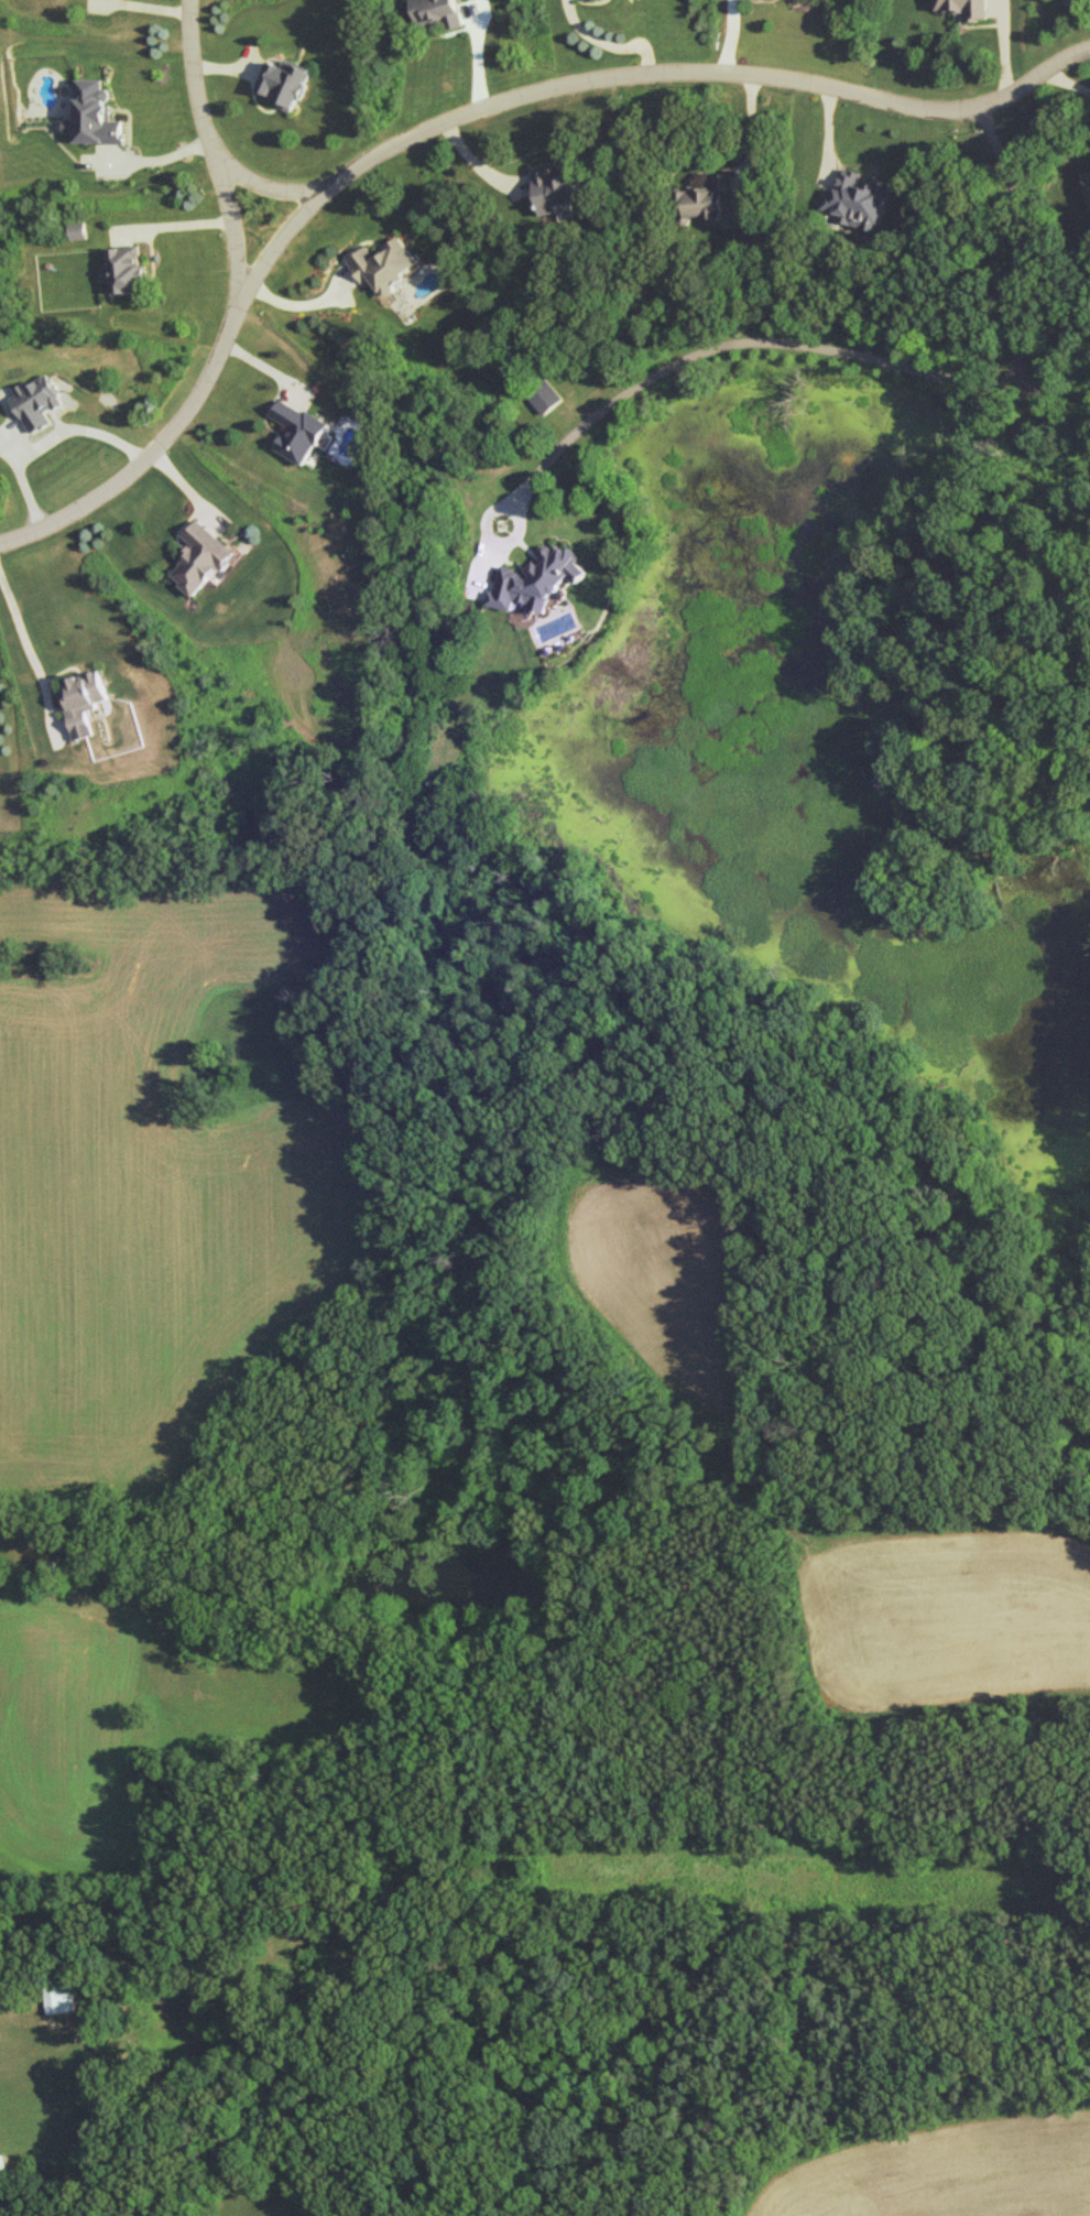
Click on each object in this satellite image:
building: (964, 8)
building: (438, 11)
road: (606, 43)
building: (286, 83)
road: (1067, 83)
building: (97, 113)
road: (457, 113)
road: (750, 134)
road: (215, 151)
road: (478, 165)
road: (270, 183)
building: (1087, 183)
building: (555, 191)
building: (708, 197)
building: (859, 199)
building: (384, 263)
building: (126, 270)
road: (872, 356)
building: (545, 395)
building: (35, 401)
building: (299, 431)
road: (50, 439)
building: (203, 557)
building: (537, 578)
road: (19, 628)
building: (81, 700)
building: (59, 1999)

